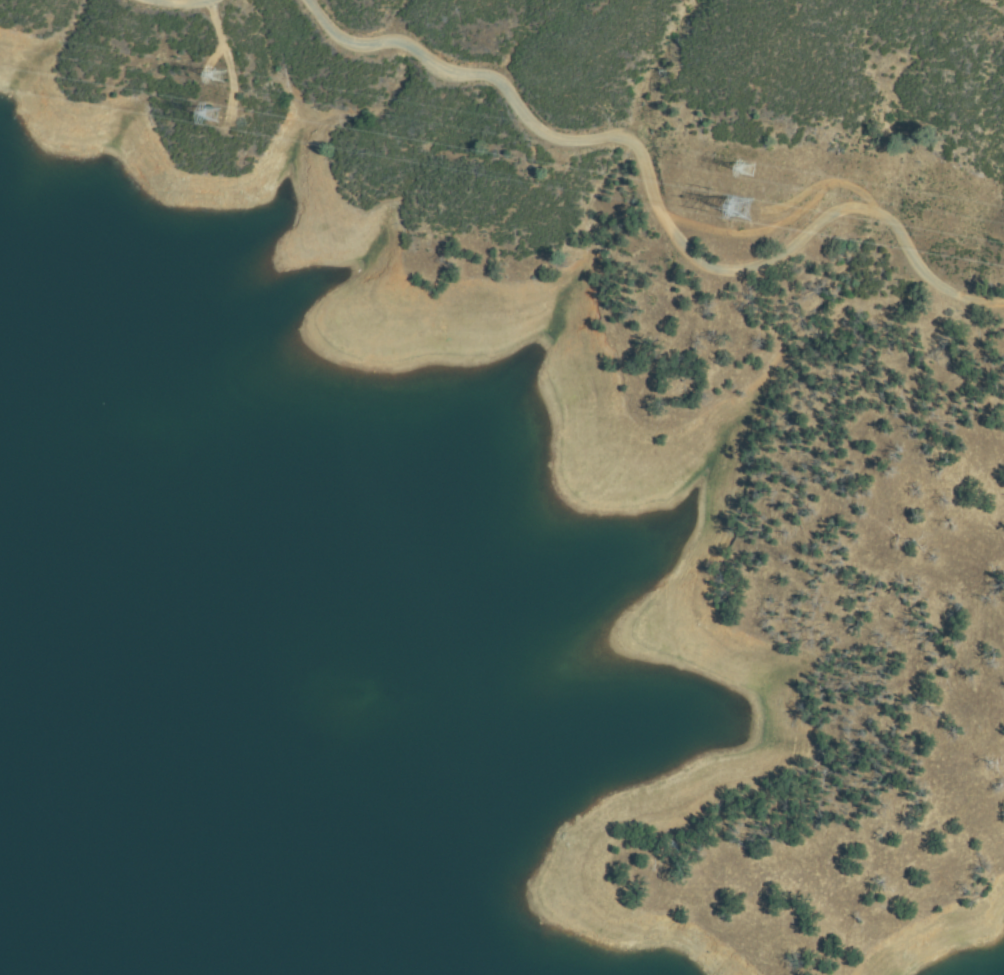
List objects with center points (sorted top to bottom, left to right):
power tower: (224, 80)
power tower: (218, 116)
power tower: (748, 172)
road: (666, 198)
power tower: (744, 209)

